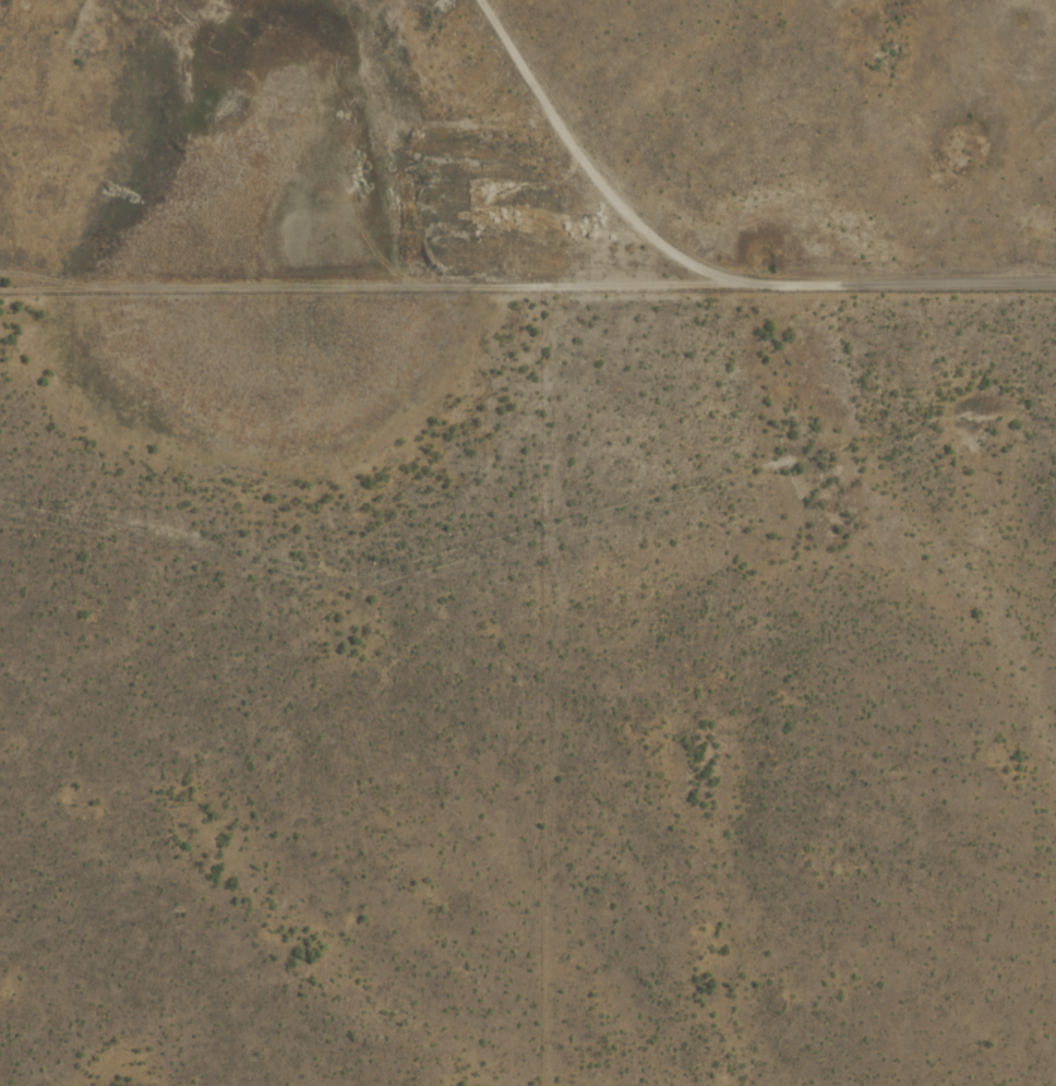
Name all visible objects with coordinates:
airport: (527, 146)
road: (701, 270)

